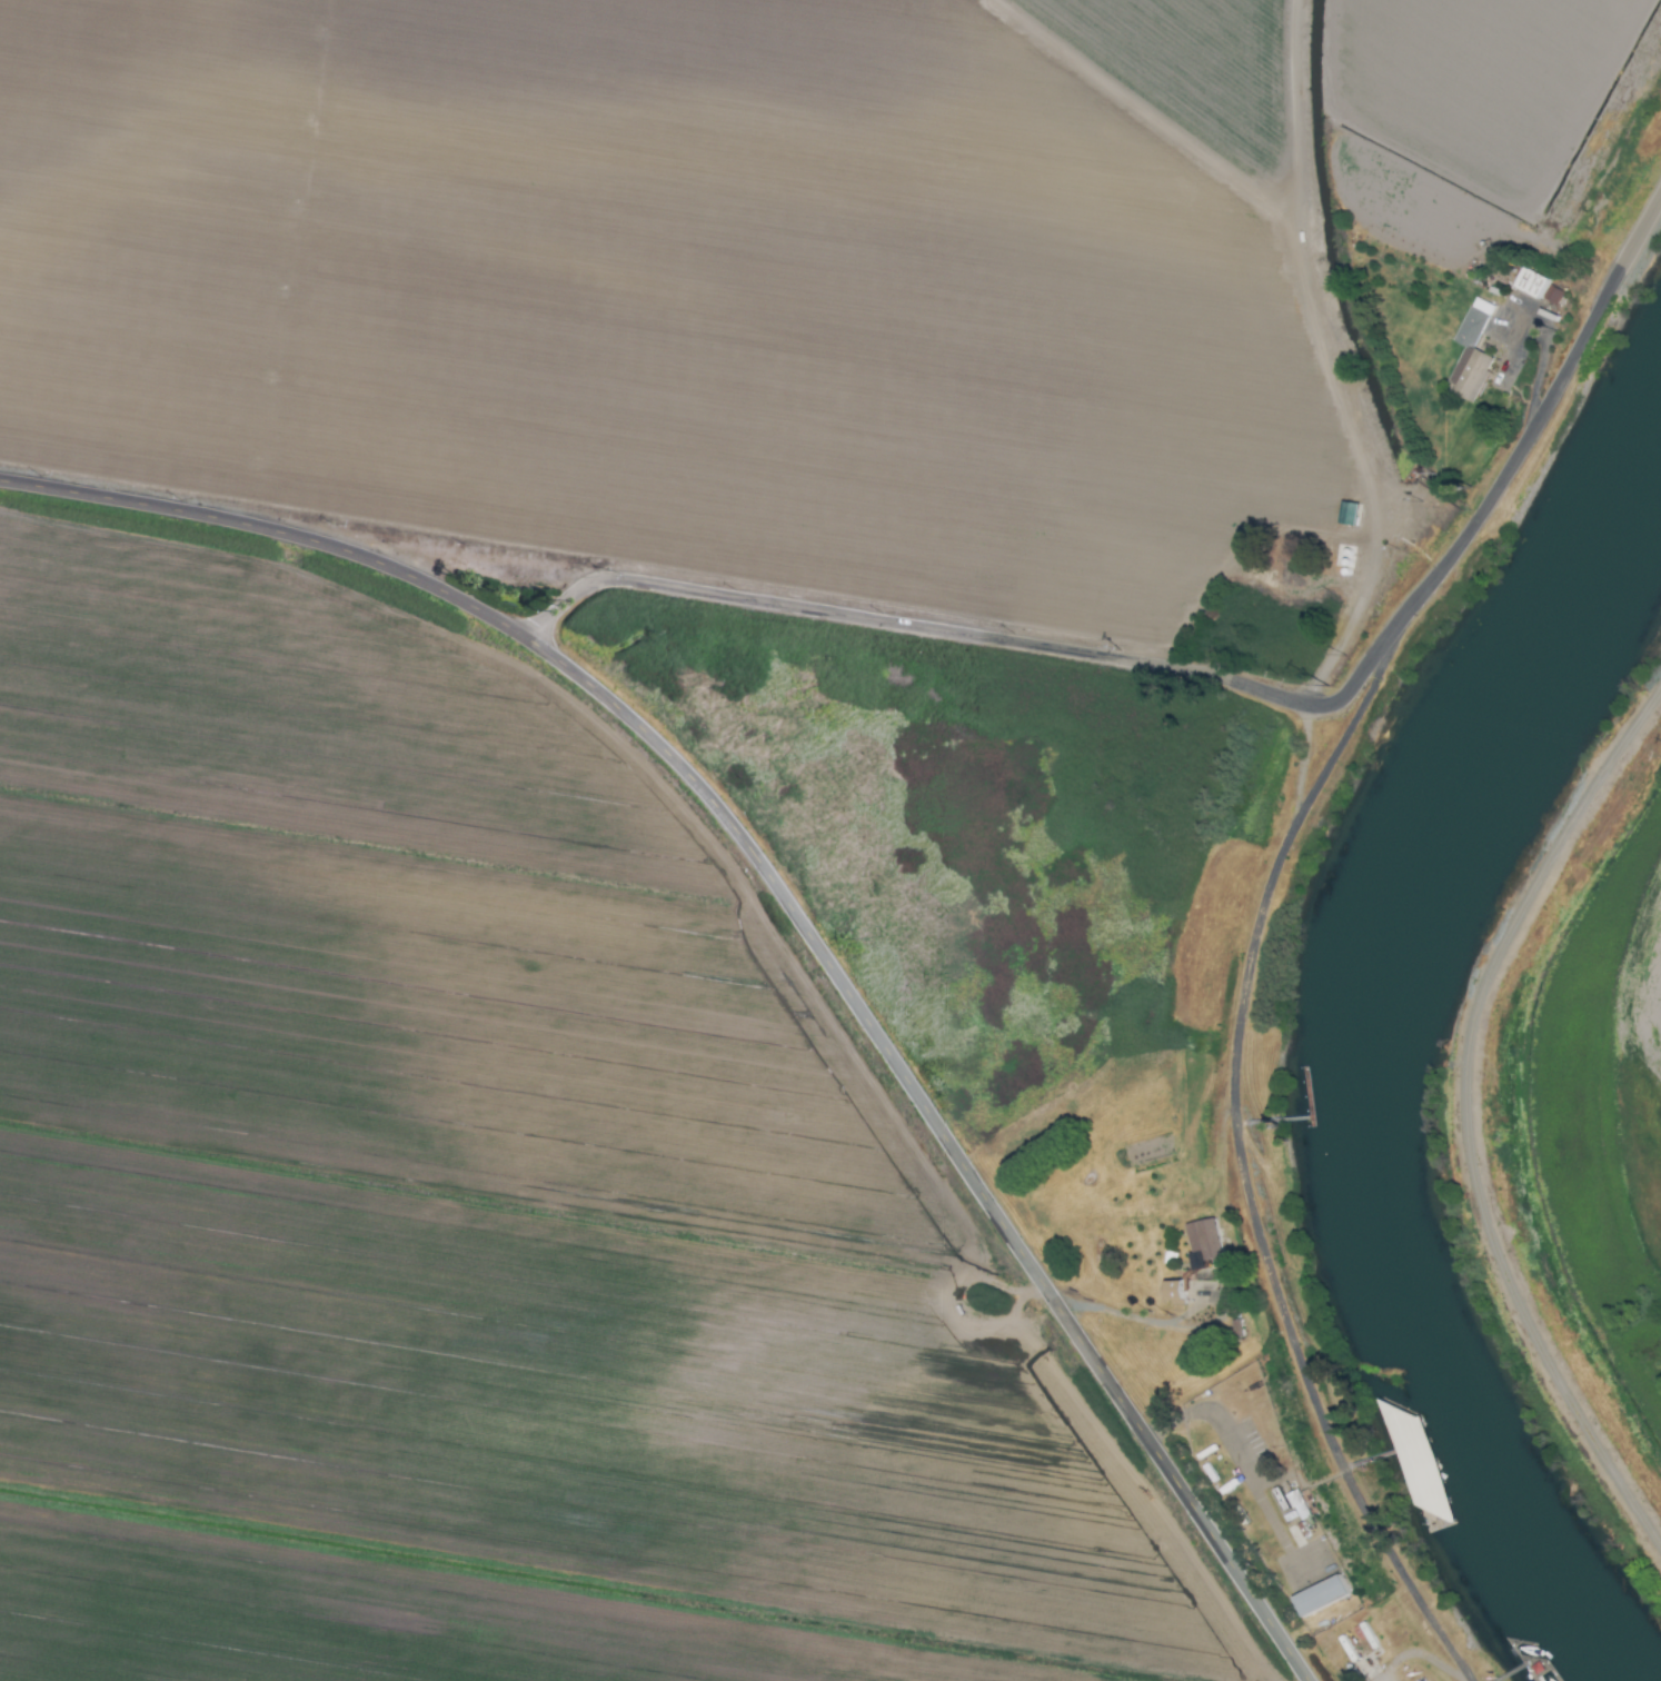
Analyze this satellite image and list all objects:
road: (1541, 352)
building: (1469, 354)
road: (1324, 364)
road: (1470, 535)
road: (554, 613)
road: (877, 621)
crop: (596, 788)
road: (789, 905)
crop: (1597, 1138)
building: (1202, 1239)
road: (1121, 1314)
road: (1233, 1458)
building: (1315, 1595)

